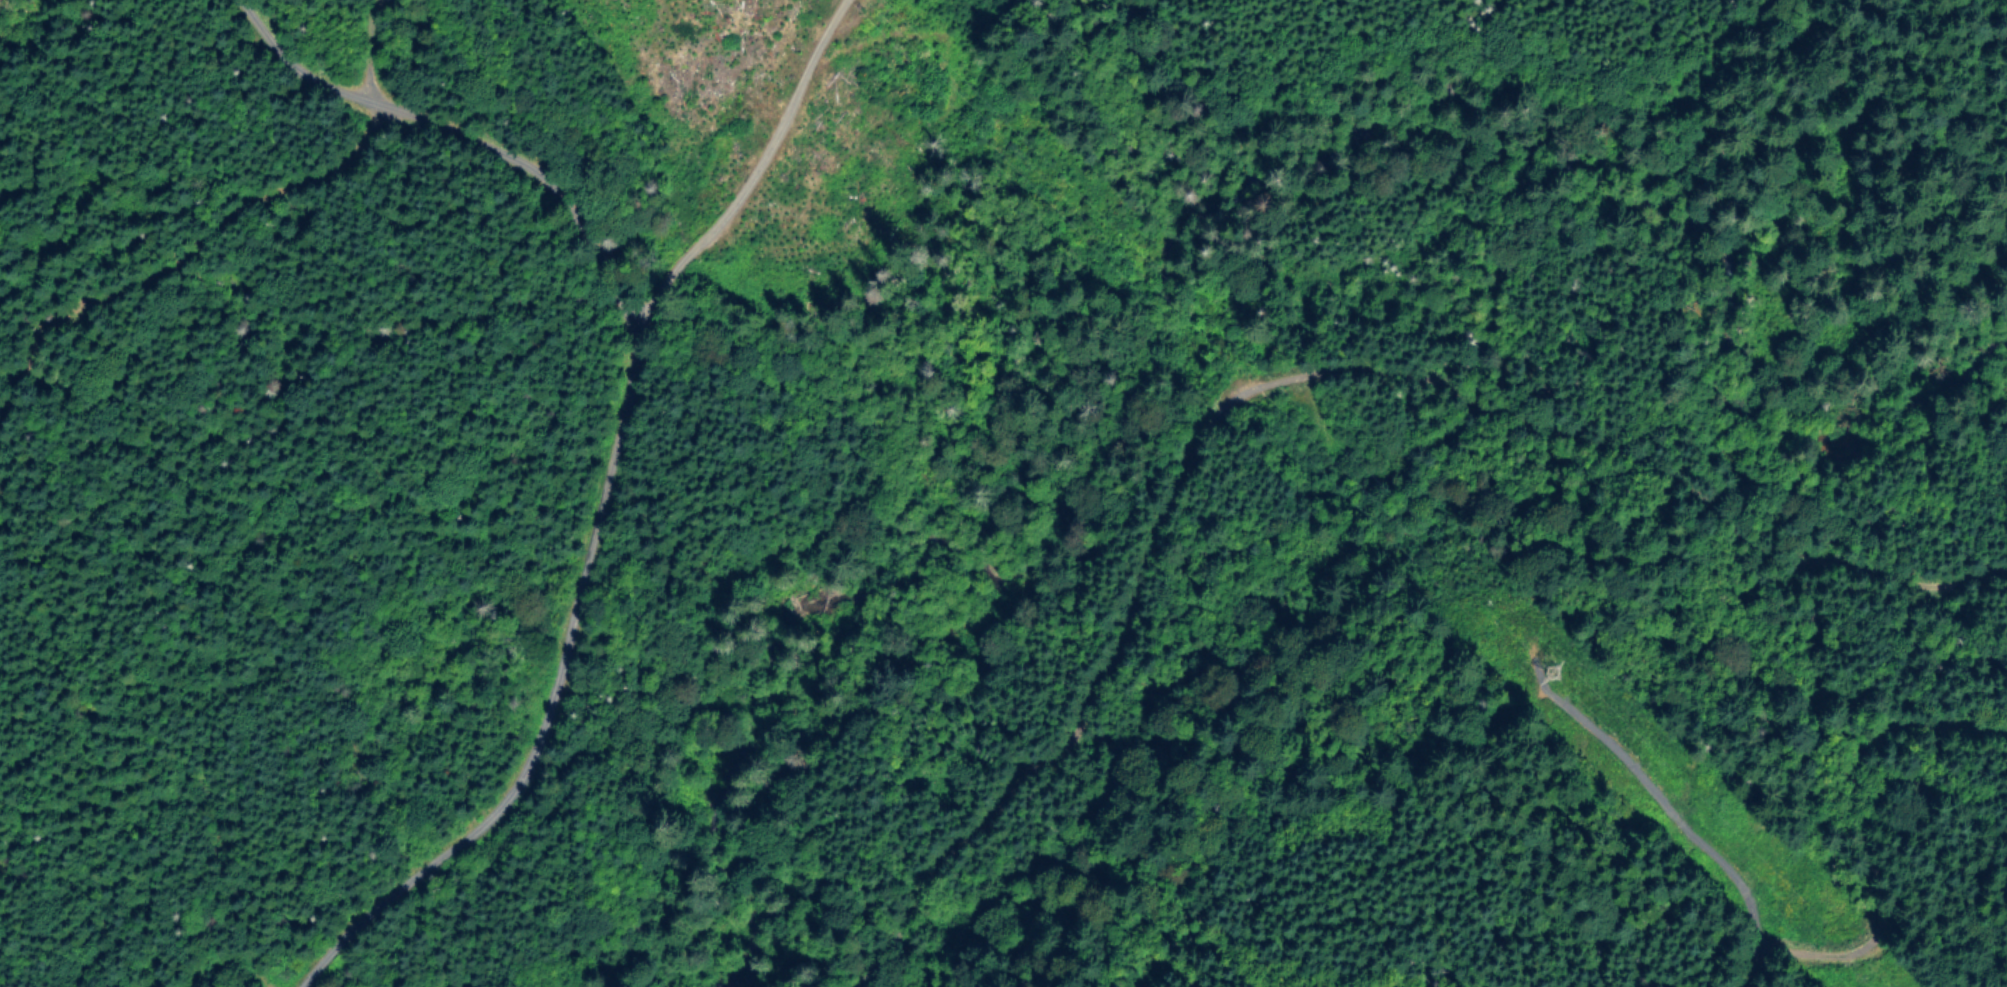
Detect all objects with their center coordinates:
road: (468, 132)
road: (1283, 380)
road: (603, 515)
power tower: (1542, 683)
road: (1852, 824)
road: (1753, 978)

